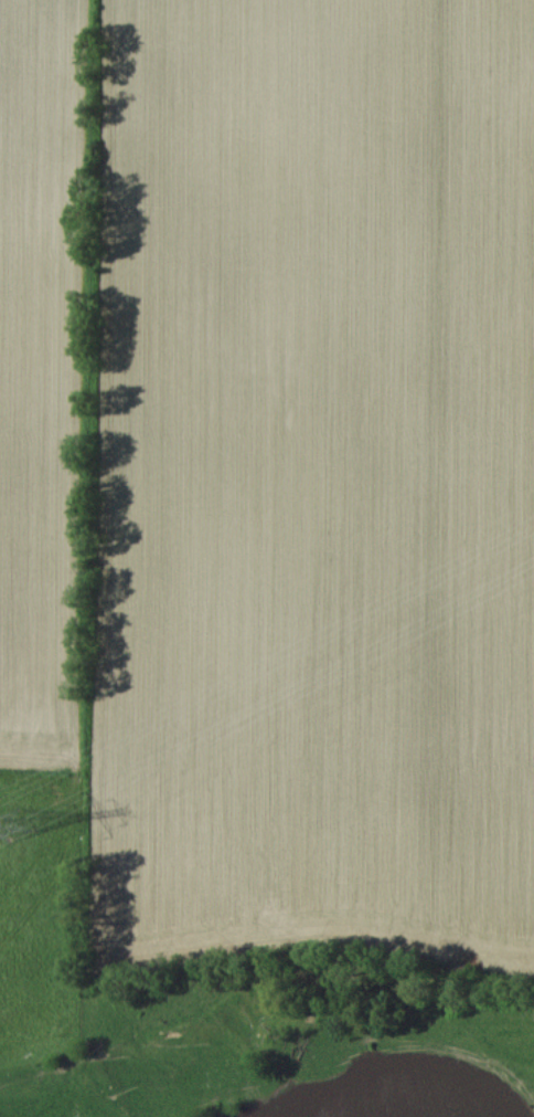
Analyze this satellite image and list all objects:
crop: (41, 377)
crop: (309, 482)
power tower: (14, 823)

